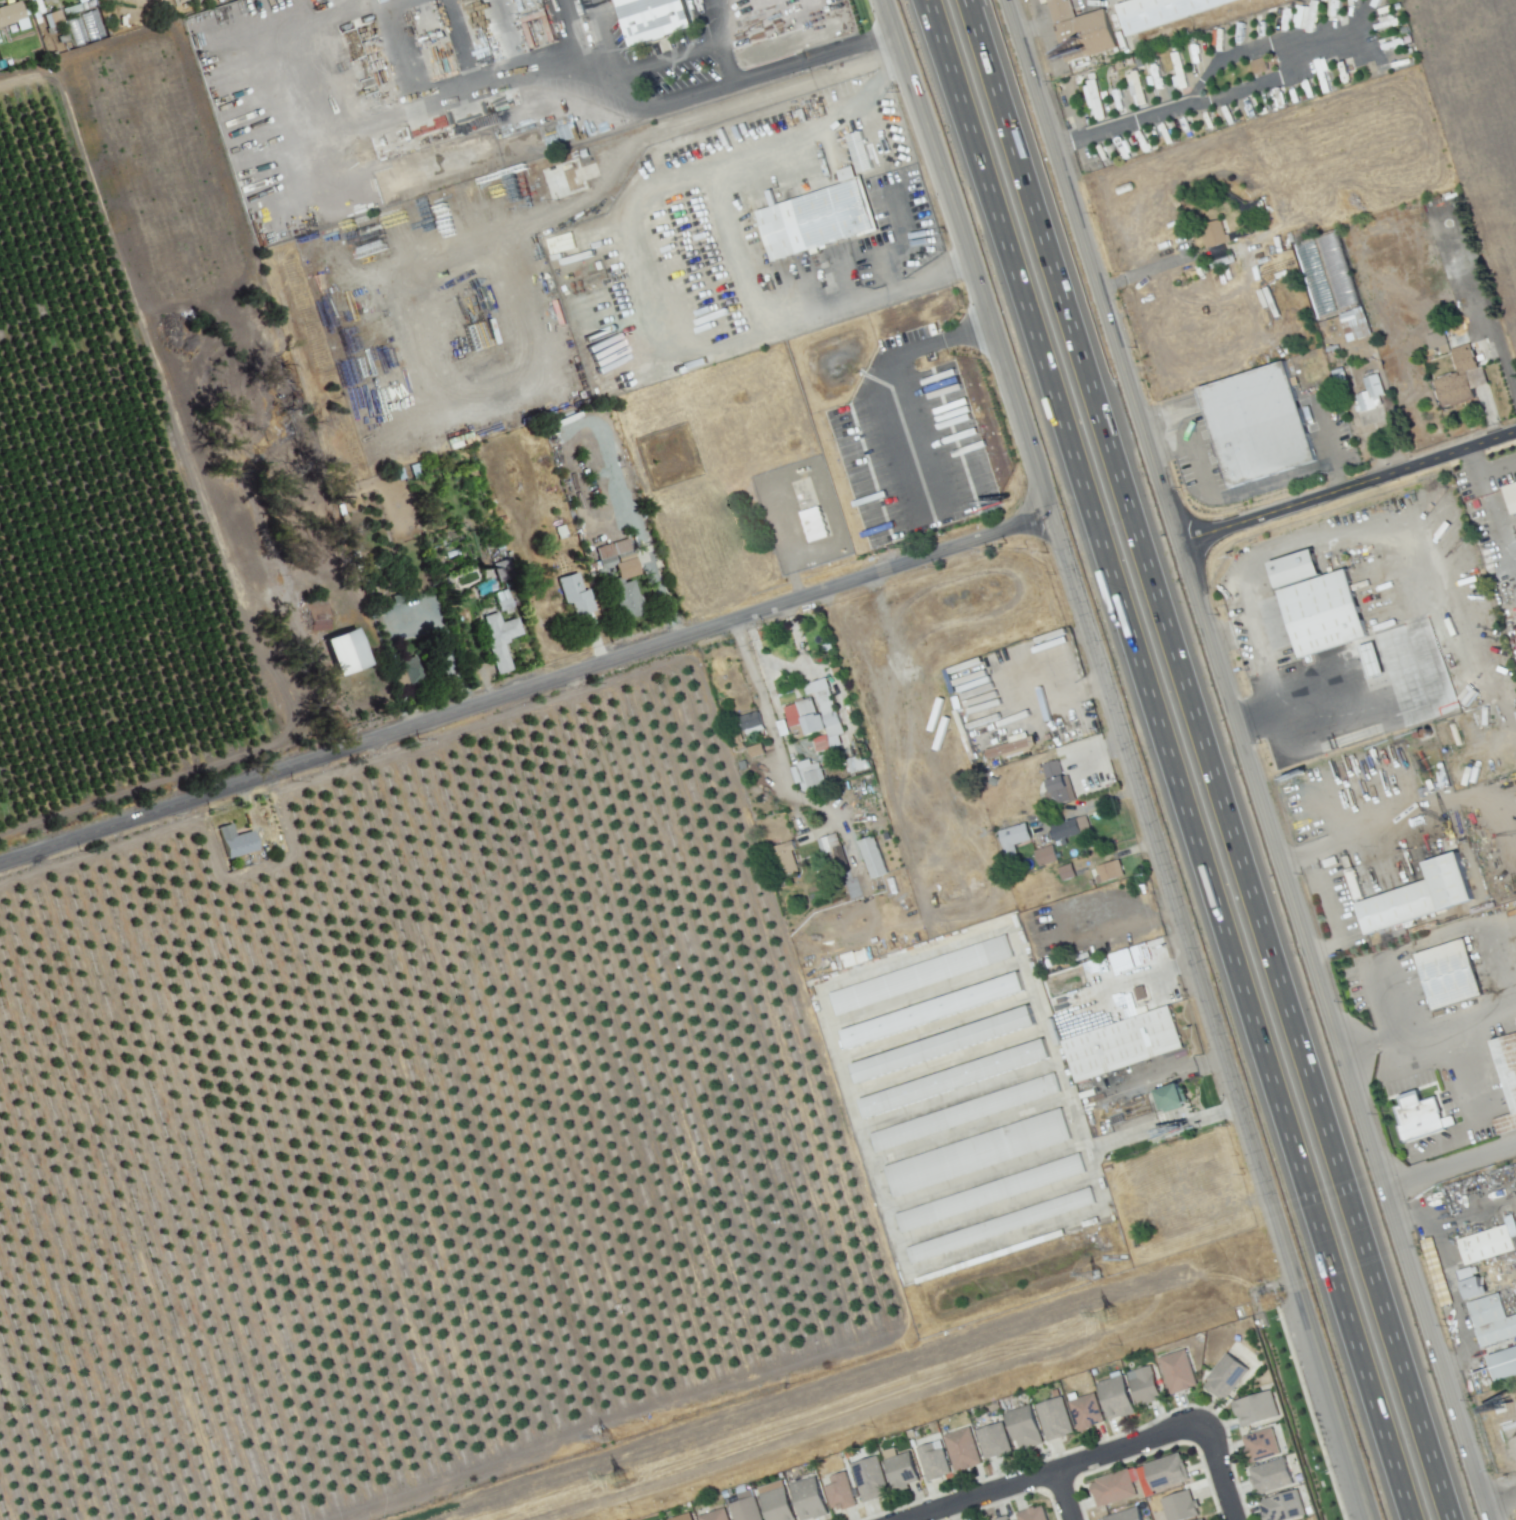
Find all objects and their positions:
building: (42, 0)
building: (10, 9)
building: (73, 10)
building: (1164, 13)
building: (1305, 16)
building: (655, 18)
building: (52, 20)
road: (1040, 24)
road: (603, 32)
building: (1082, 32)
road: (714, 42)
building: (1257, 65)
building: (1176, 71)
road: (899, 73)
road: (746, 77)
road: (463, 87)
building: (1134, 88)
building: (1093, 99)
road: (1211, 99)
building: (857, 151)
building: (590, 173)
building: (817, 217)
building: (1217, 235)
road: (641, 261)
building: (1221, 262)
road: (939, 273)
building: (1359, 323)
building: (933, 327)
building: (1435, 339)
building: (1461, 346)
building: (1460, 388)
building: (962, 398)
building: (1371, 400)
building: (1260, 428)
road: (1496, 466)
road: (1348, 488)
building: (1512, 495)
road: (1490, 508)
building: (812, 524)
building: (616, 554)
building: (1294, 568)
building: (499, 571)
road: (1401, 579)
building: (576, 593)
building: (397, 598)
building: (628, 599)
building: (505, 602)
building: (1326, 612)
building: (501, 639)
building: (344, 651)
building: (1374, 658)
road: (1260, 671)
building: (411, 672)
road: (527, 690)
road: (1056, 697)
building: (815, 716)
building: (751, 721)
building: (735, 735)
road: (771, 737)
building: (758, 751)
road: (1132, 759)
road: (1167, 759)
road: (1214, 759)
road: (1247, 759)
building: (771, 762)
building: (807, 775)
building: (994, 780)
building: (1059, 783)
building: (770, 786)
building: (1067, 829)
building: (1017, 835)
building: (229, 839)
building: (829, 845)
building: (1048, 855)
building: (871, 857)
building: (788, 858)
building: (1111, 870)
building: (1068, 872)
building: (1421, 894)
building: (1451, 973)
building: (923, 975)
building: (936, 1008)
building: (945, 1043)
building: (1124, 1045)
building: (1509, 1077)
building: (956, 1078)
building: (1169, 1096)
building: (968, 1112)
building: (1425, 1120)
building: (979, 1152)
road: (1449, 1168)
building: (1113, 1184)
building: (993, 1192)
building: (1004, 1225)
building: (1488, 1244)
power tower: (1097, 1274)
road: (1450, 1278)
building: (1469, 1282)
building: (1489, 1311)
power tower: (1111, 1317)
building: (1498, 1331)
building: (1504, 1364)
building: (1180, 1372)
building: (1227, 1376)
building: (1147, 1386)
building: (1117, 1397)
building: (1257, 1408)
building: (1088, 1413)
building: (1057, 1418)
building: (1025, 1428)
power tower: (607, 1438)
building: (997, 1441)
building: (1263, 1445)
building: (964, 1449)
building: (935, 1462)
building: (903, 1470)
road: (1055, 1471)
building: (1167, 1471)
road: (1219, 1471)
building: (1273, 1476)
building: (872, 1479)
power tower: (618, 1480)
building: (1114, 1489)
building: (842, 1492)
road: (1498, 1494)
road: (1064, 1495)
building: (810, 1498)
building: (778, 1504)
building: (1181, 1506)
building: (1285, 1507)
building: (747, 1510)
building: (1035, 1514)
building: (716, 1515)
building: (1126, 1515)
building: (682, 1517)
building: (1006, 1518)
building: (1201, 1519)
building: (1205, 1519)

